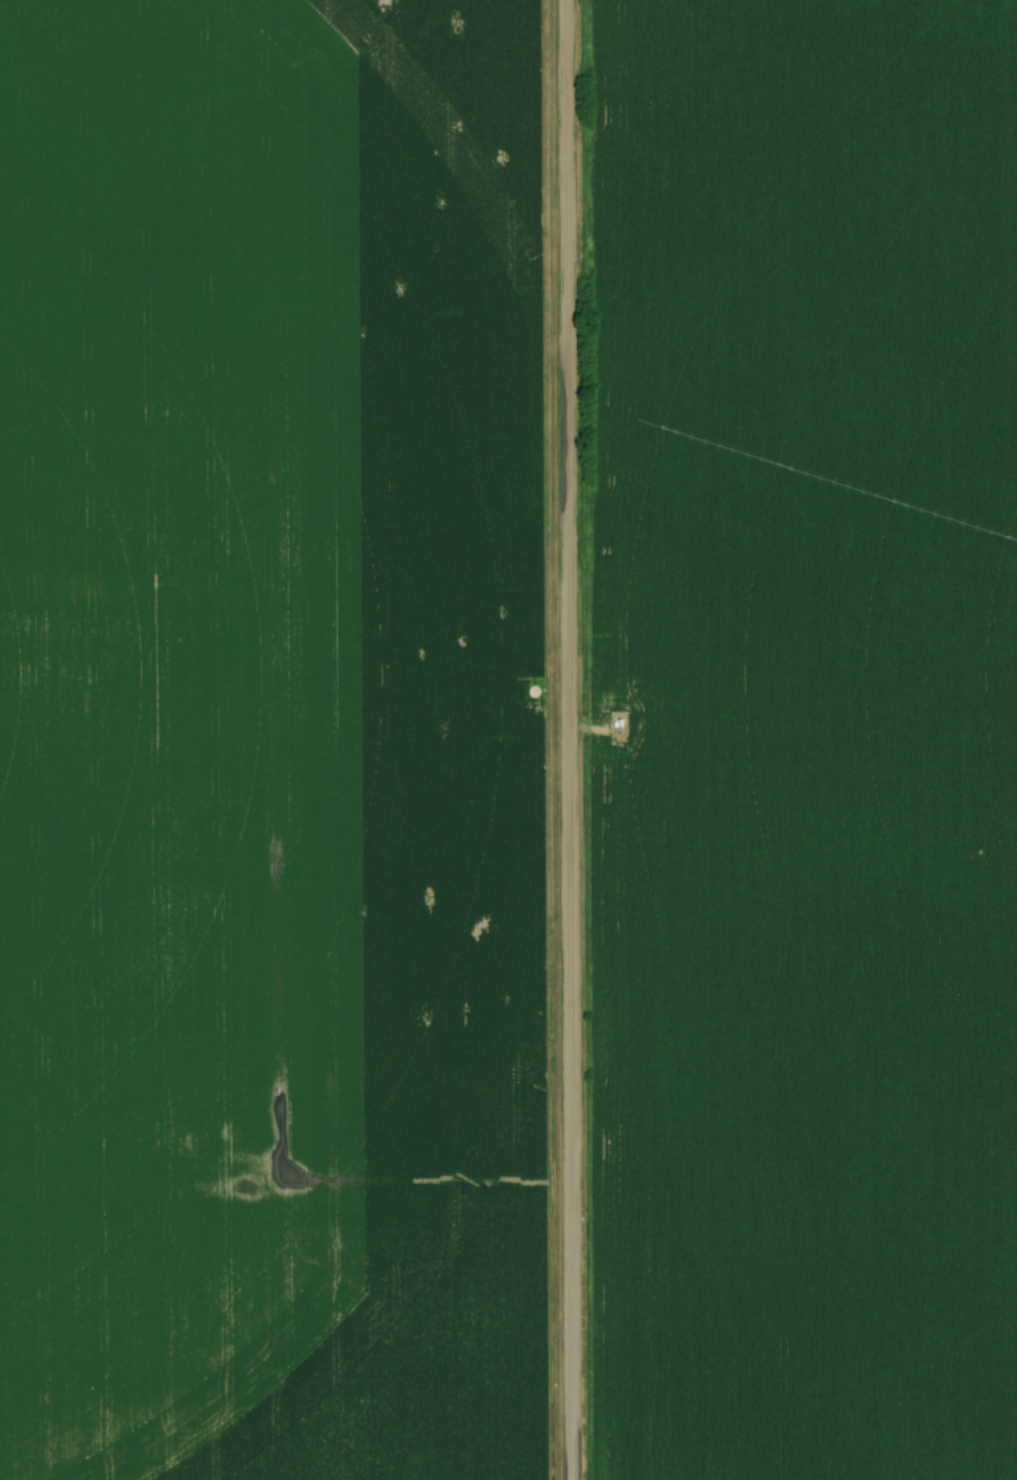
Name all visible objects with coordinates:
road: (569, 739)

